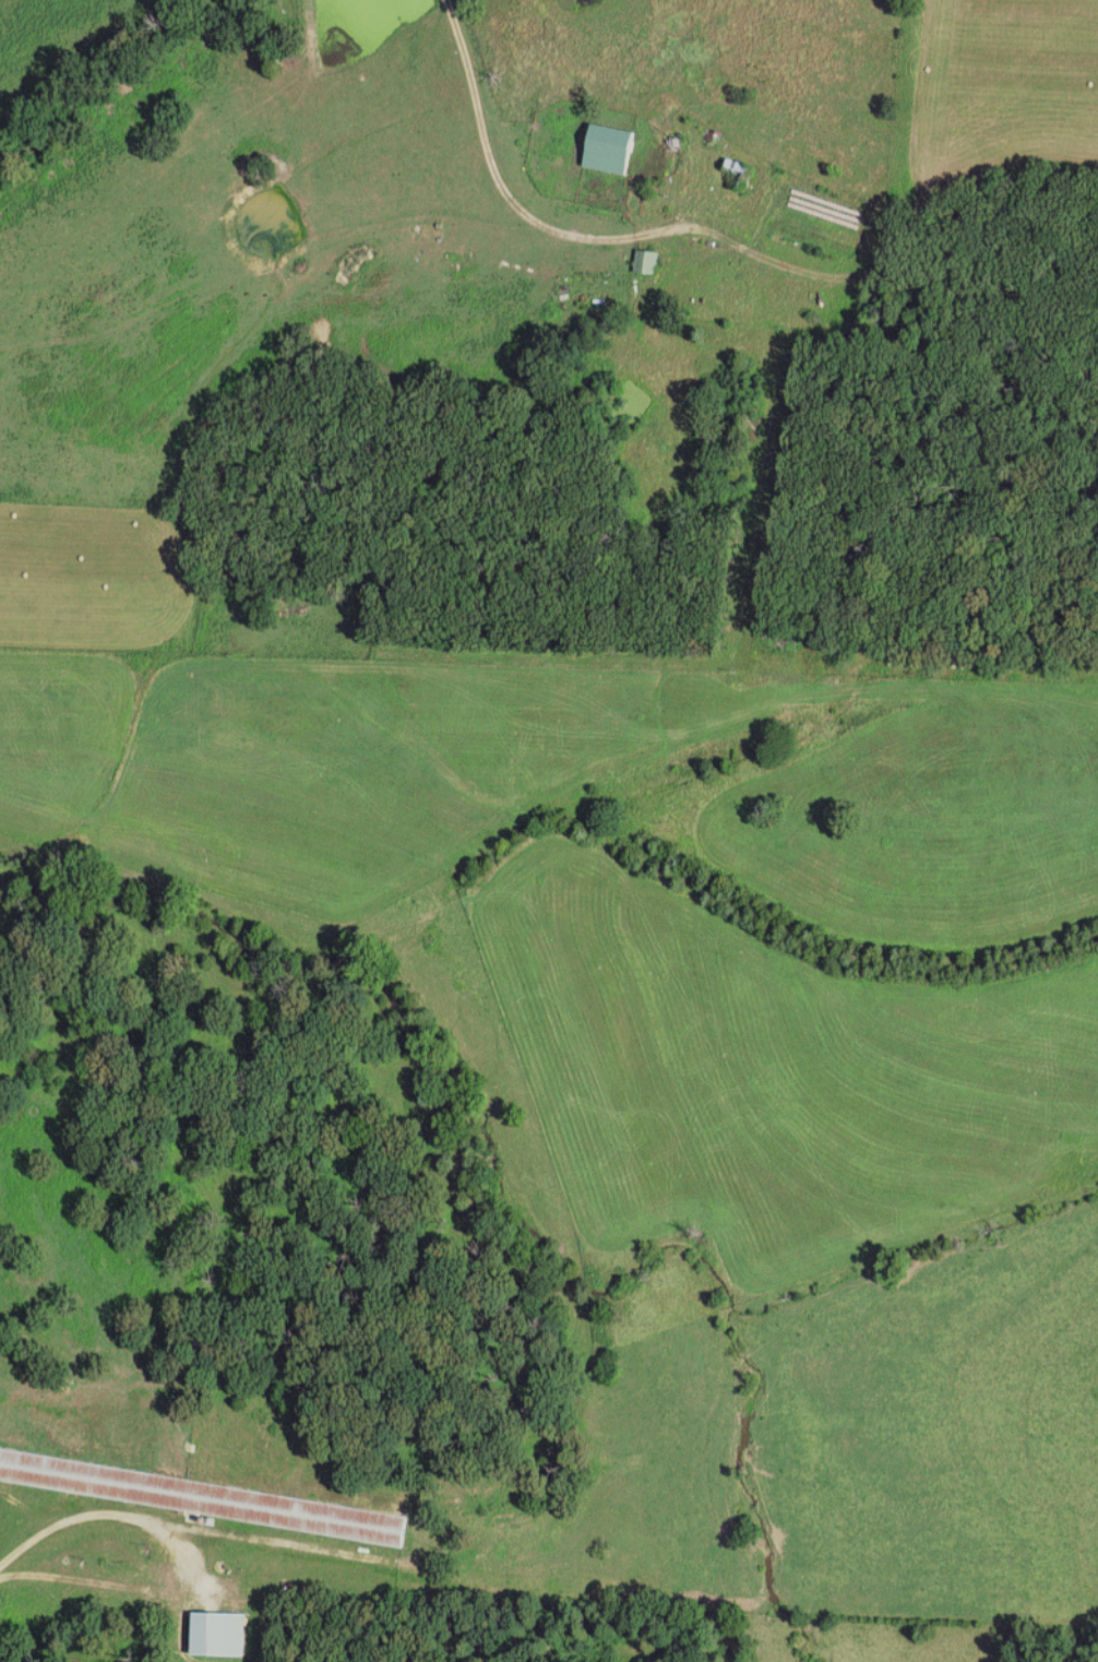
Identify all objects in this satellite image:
building: (610, 150)
building: (741, 174)
building: (648, 262)
building: (203, 1497)
road: (183, 1559)
building: (219, 1635)

